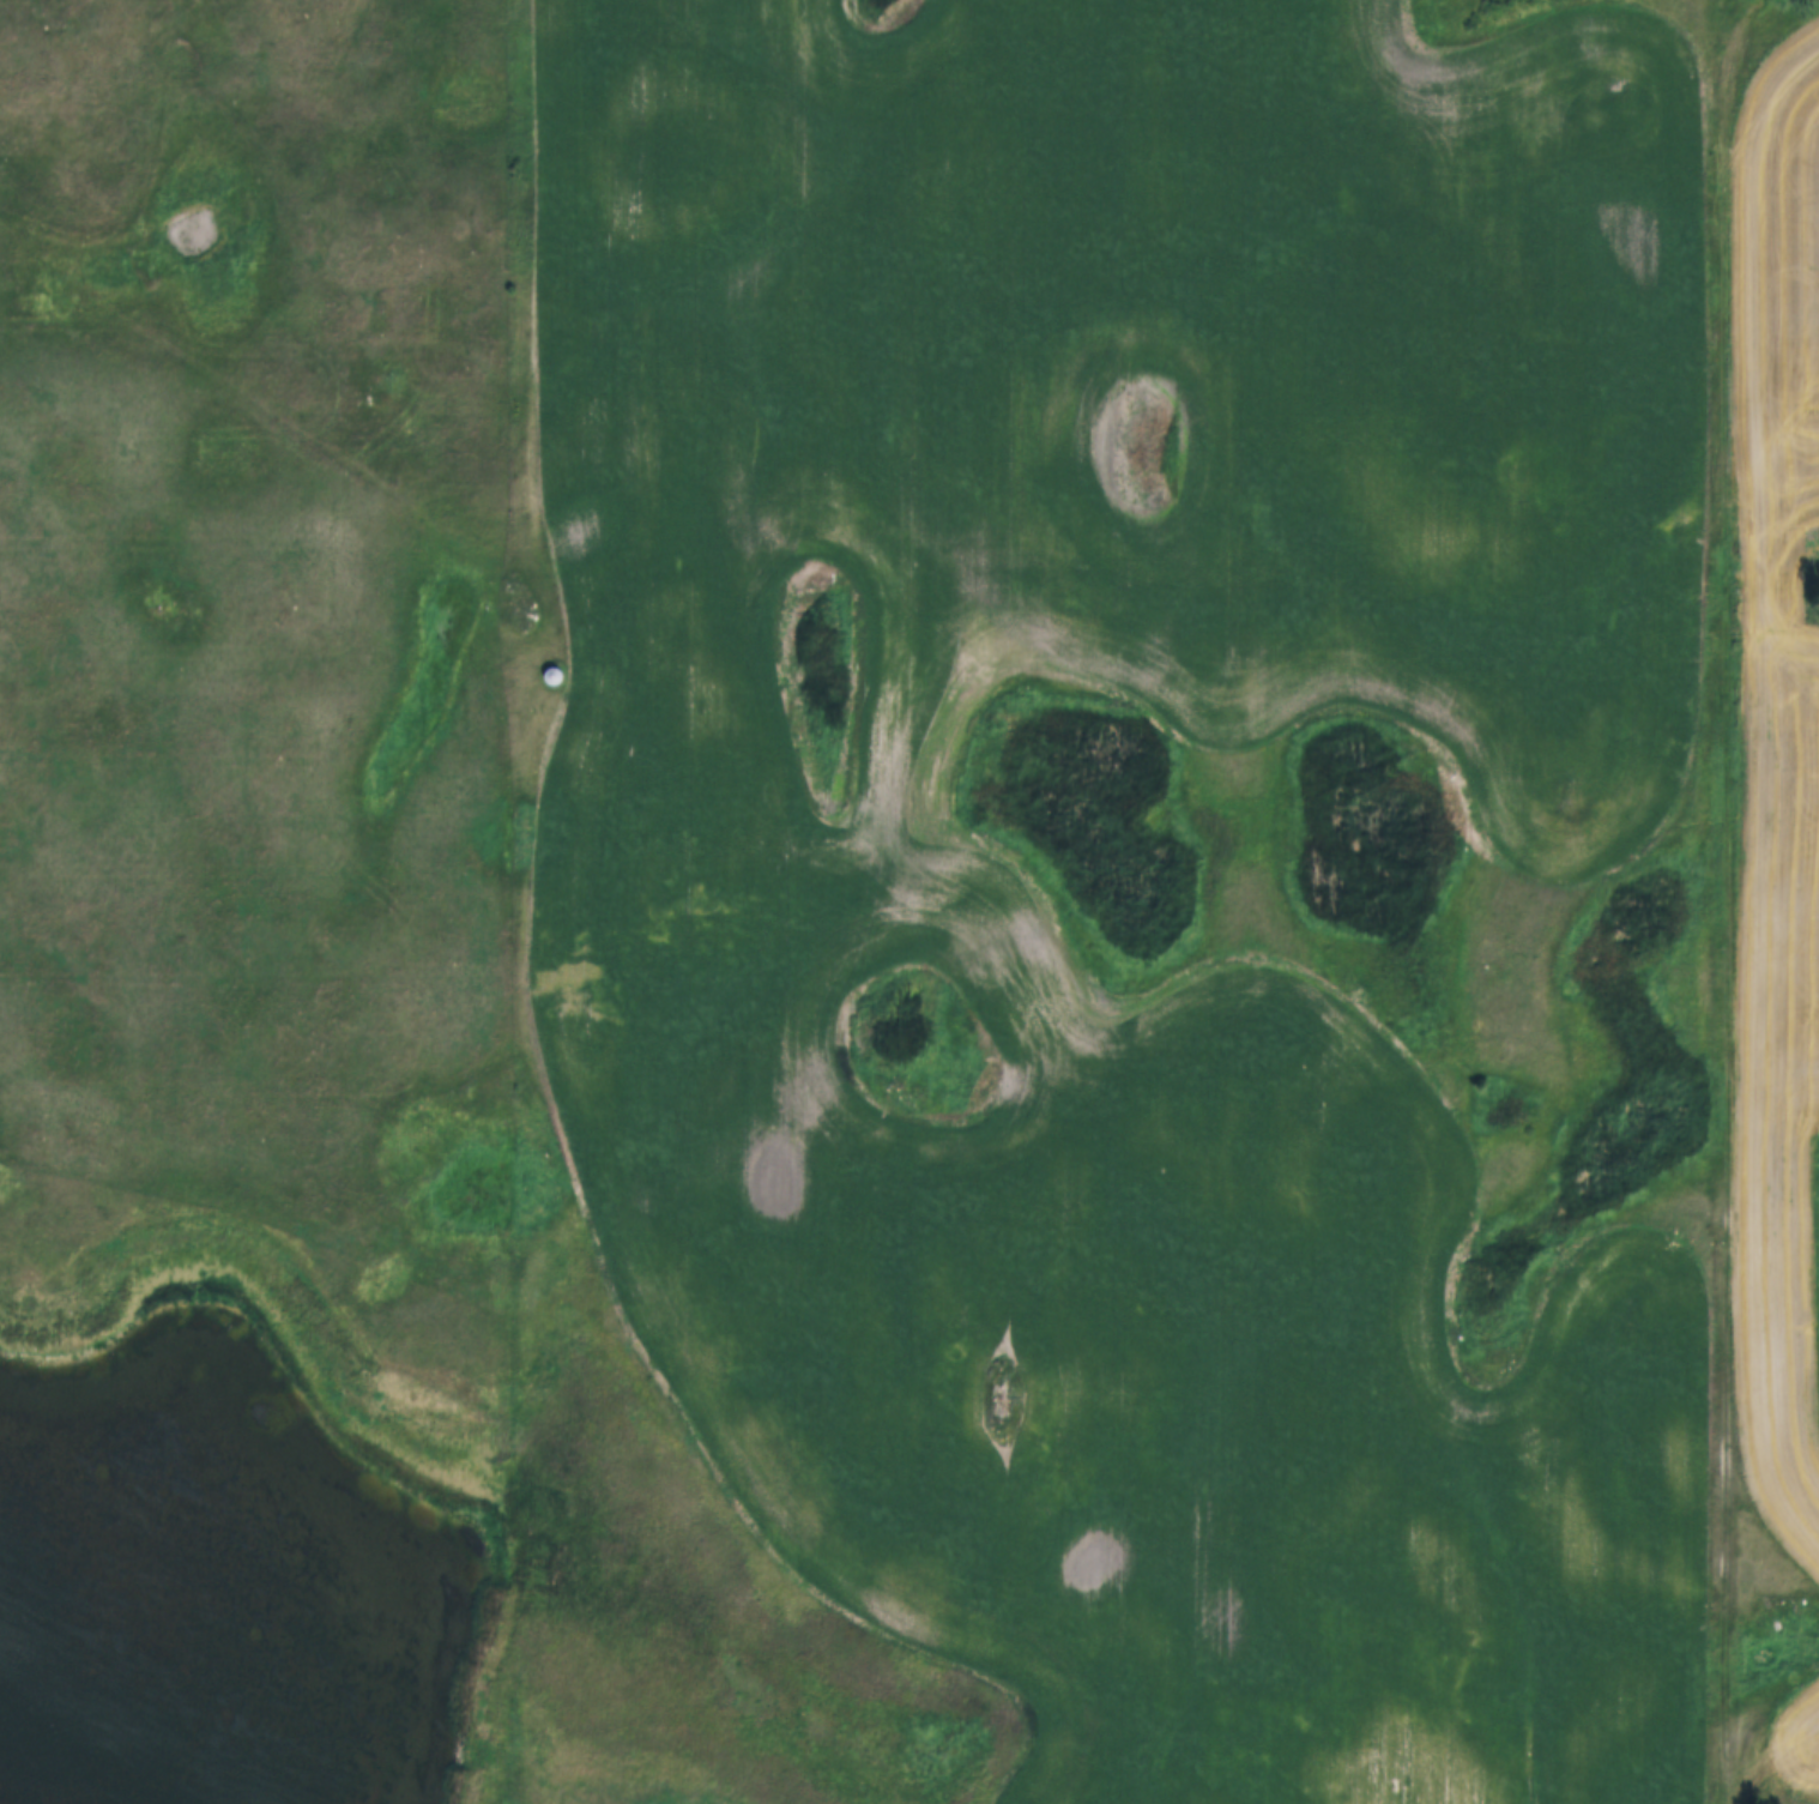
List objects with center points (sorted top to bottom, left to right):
building: (549, 676)
road: (1730, 898)

